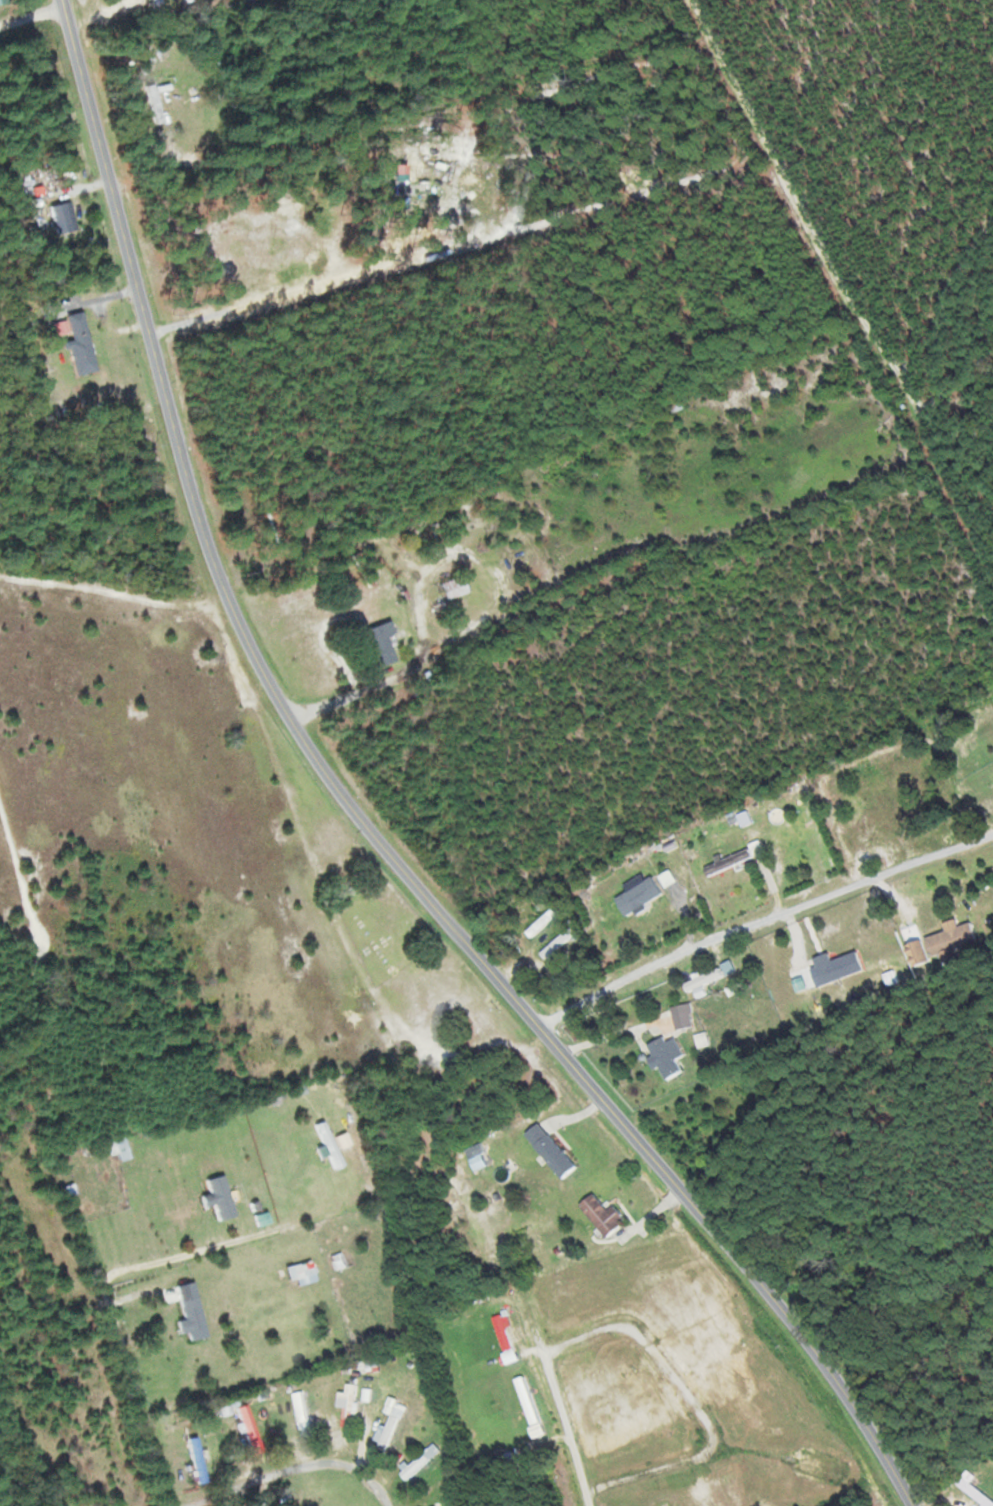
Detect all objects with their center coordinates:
building: (184, 0)
building: (158, 1)
building: (1, 2)
road: (33, 17)
building: (156, 102)
building: (61, 216)
building: (80, 342)
building: (453, 586)
road: (677, 622)
building: (382, 641)
road: (367, 818)
building: (728, 861)
road: (762, 919)
building: (544, 921)
park: (386, 928)
building: (951, 937)
building: (558, 942)
building: (665, 1055)
building: (551, 1148)
building: (217, 1195)
building: (602, 1213)
building: (193, 1316)
building: (509, 1331)
road: (145, 1394)
building: (351, 1404)
building: (303, 1411)
building: (247, 1426)
building: (392, 1427)
building: (196, 1455)
building: (421, 1460)
road: (298, 1470)
building: (976, 1489)

